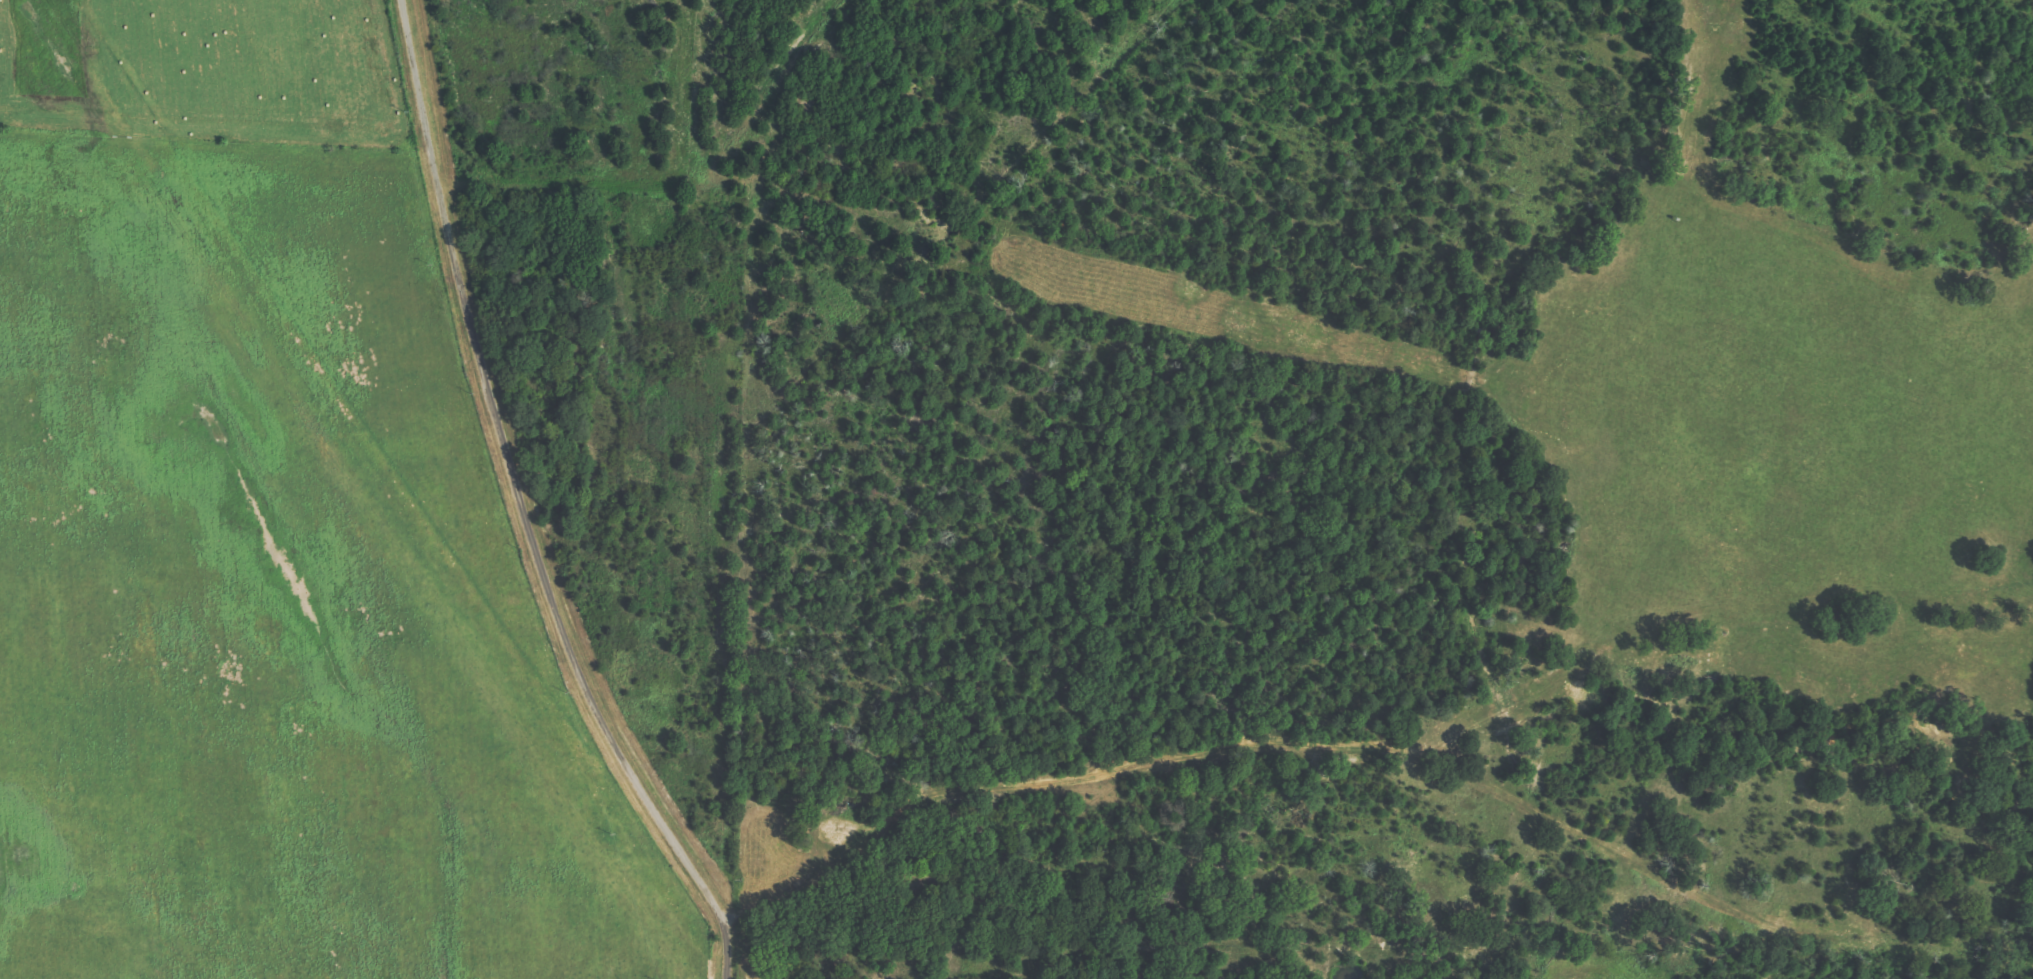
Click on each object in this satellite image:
road: (522, 506)

